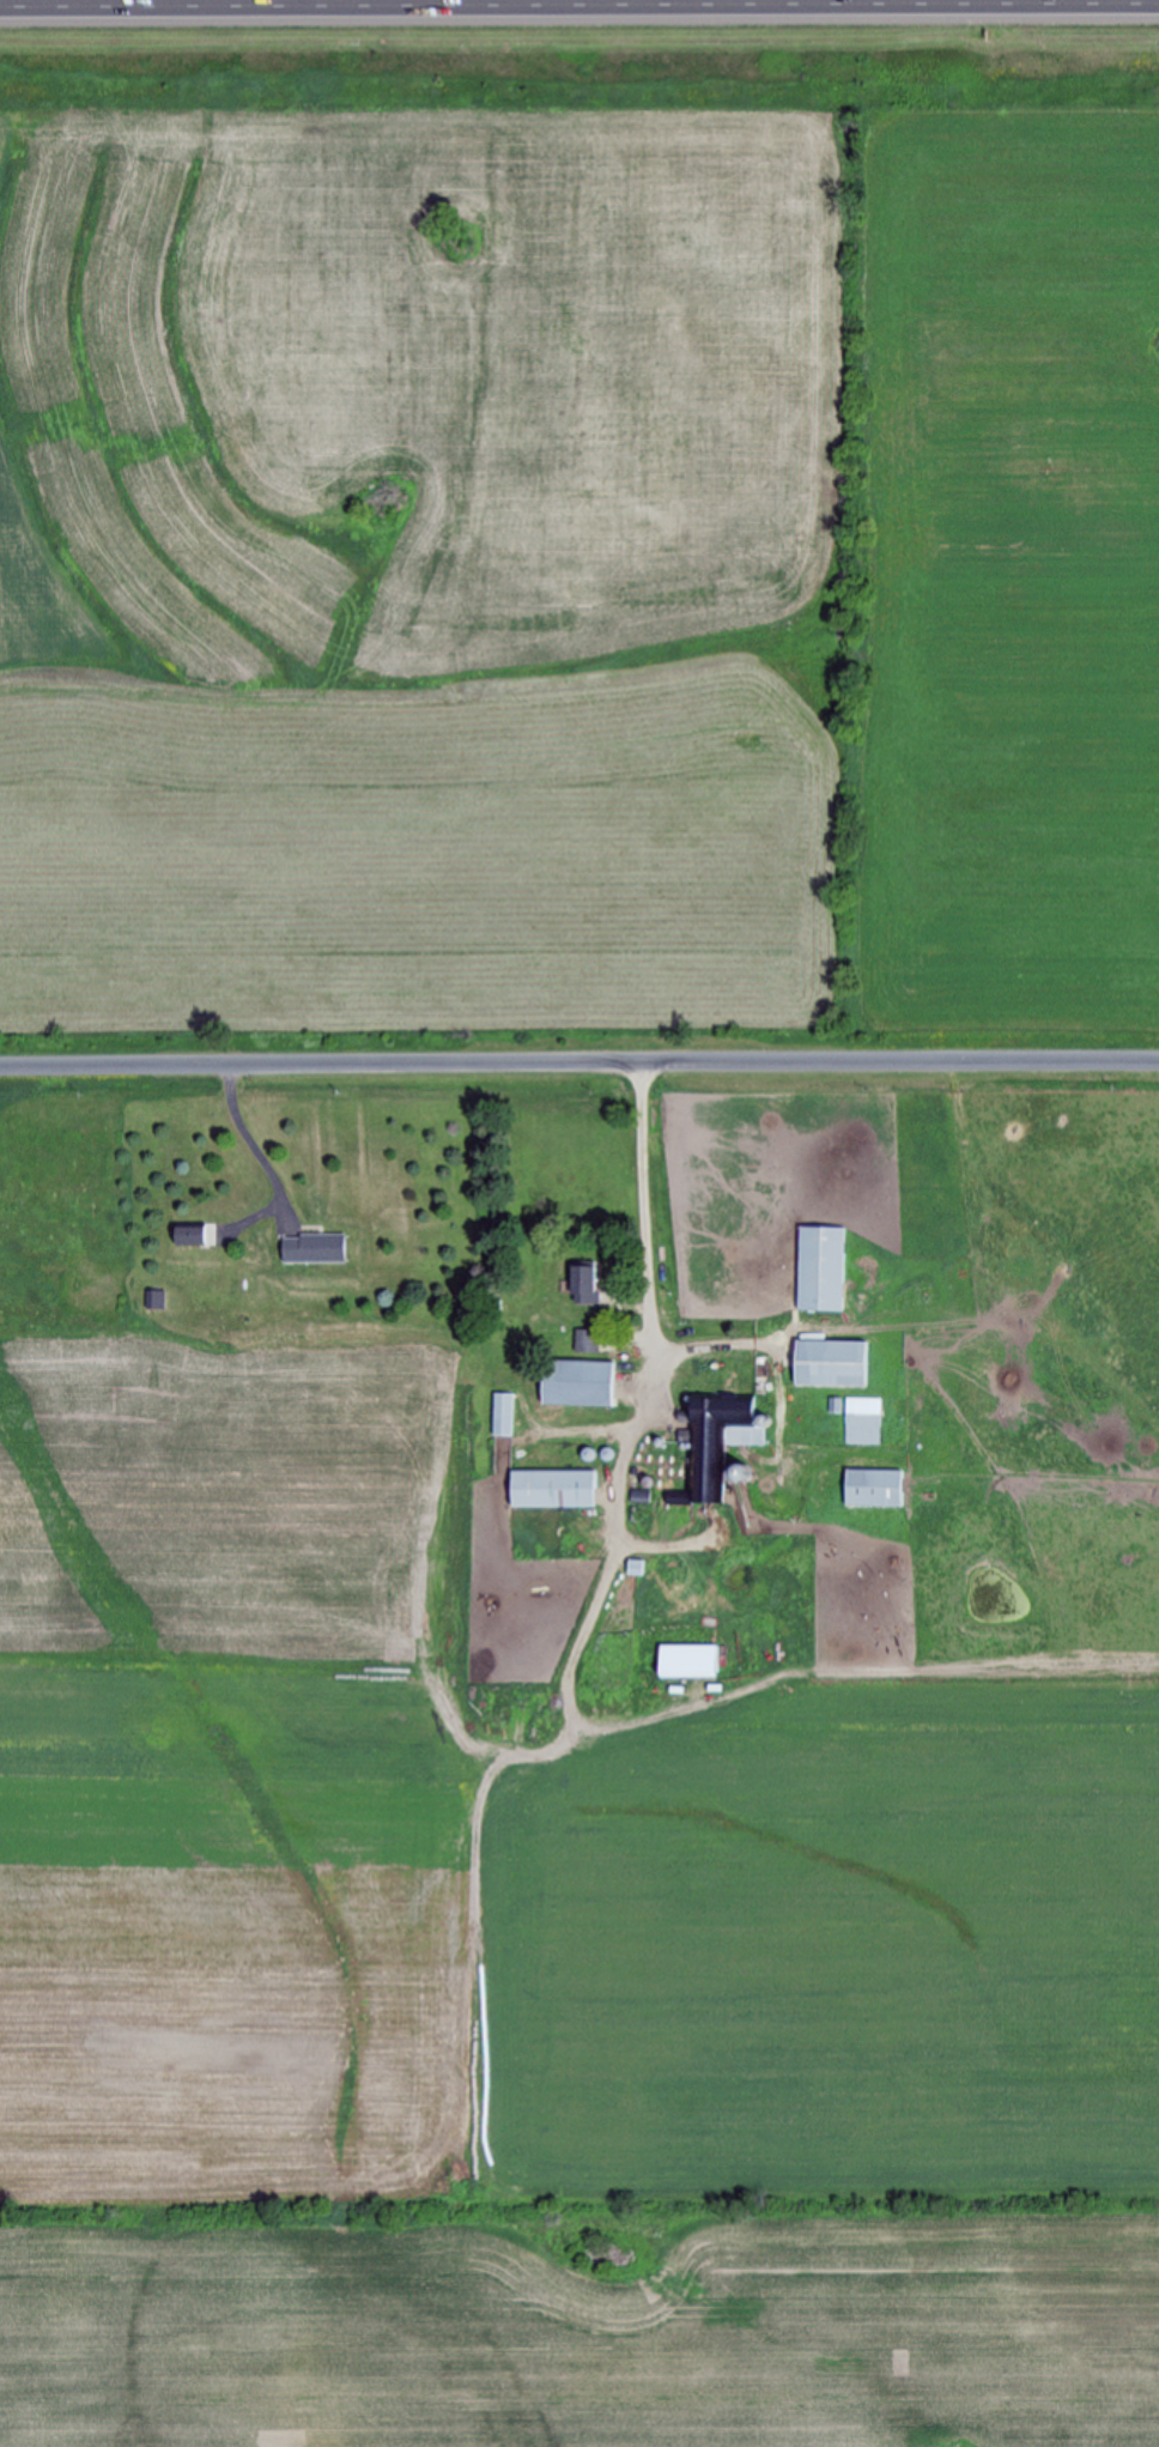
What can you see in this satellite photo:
road: (579, 0)
road: (579, 1071)
building: (196, 1236)
building: (317, 1249)
building: (823, 1271)
building: (588, 1285)
building: (588, 1343)
building: (833, 1365)
building: (582, 1385)
building: (863, 1423)
building: (715, 1441)
building: (556, 1490)
building: (876, 1490)
building: (692, 1662)

